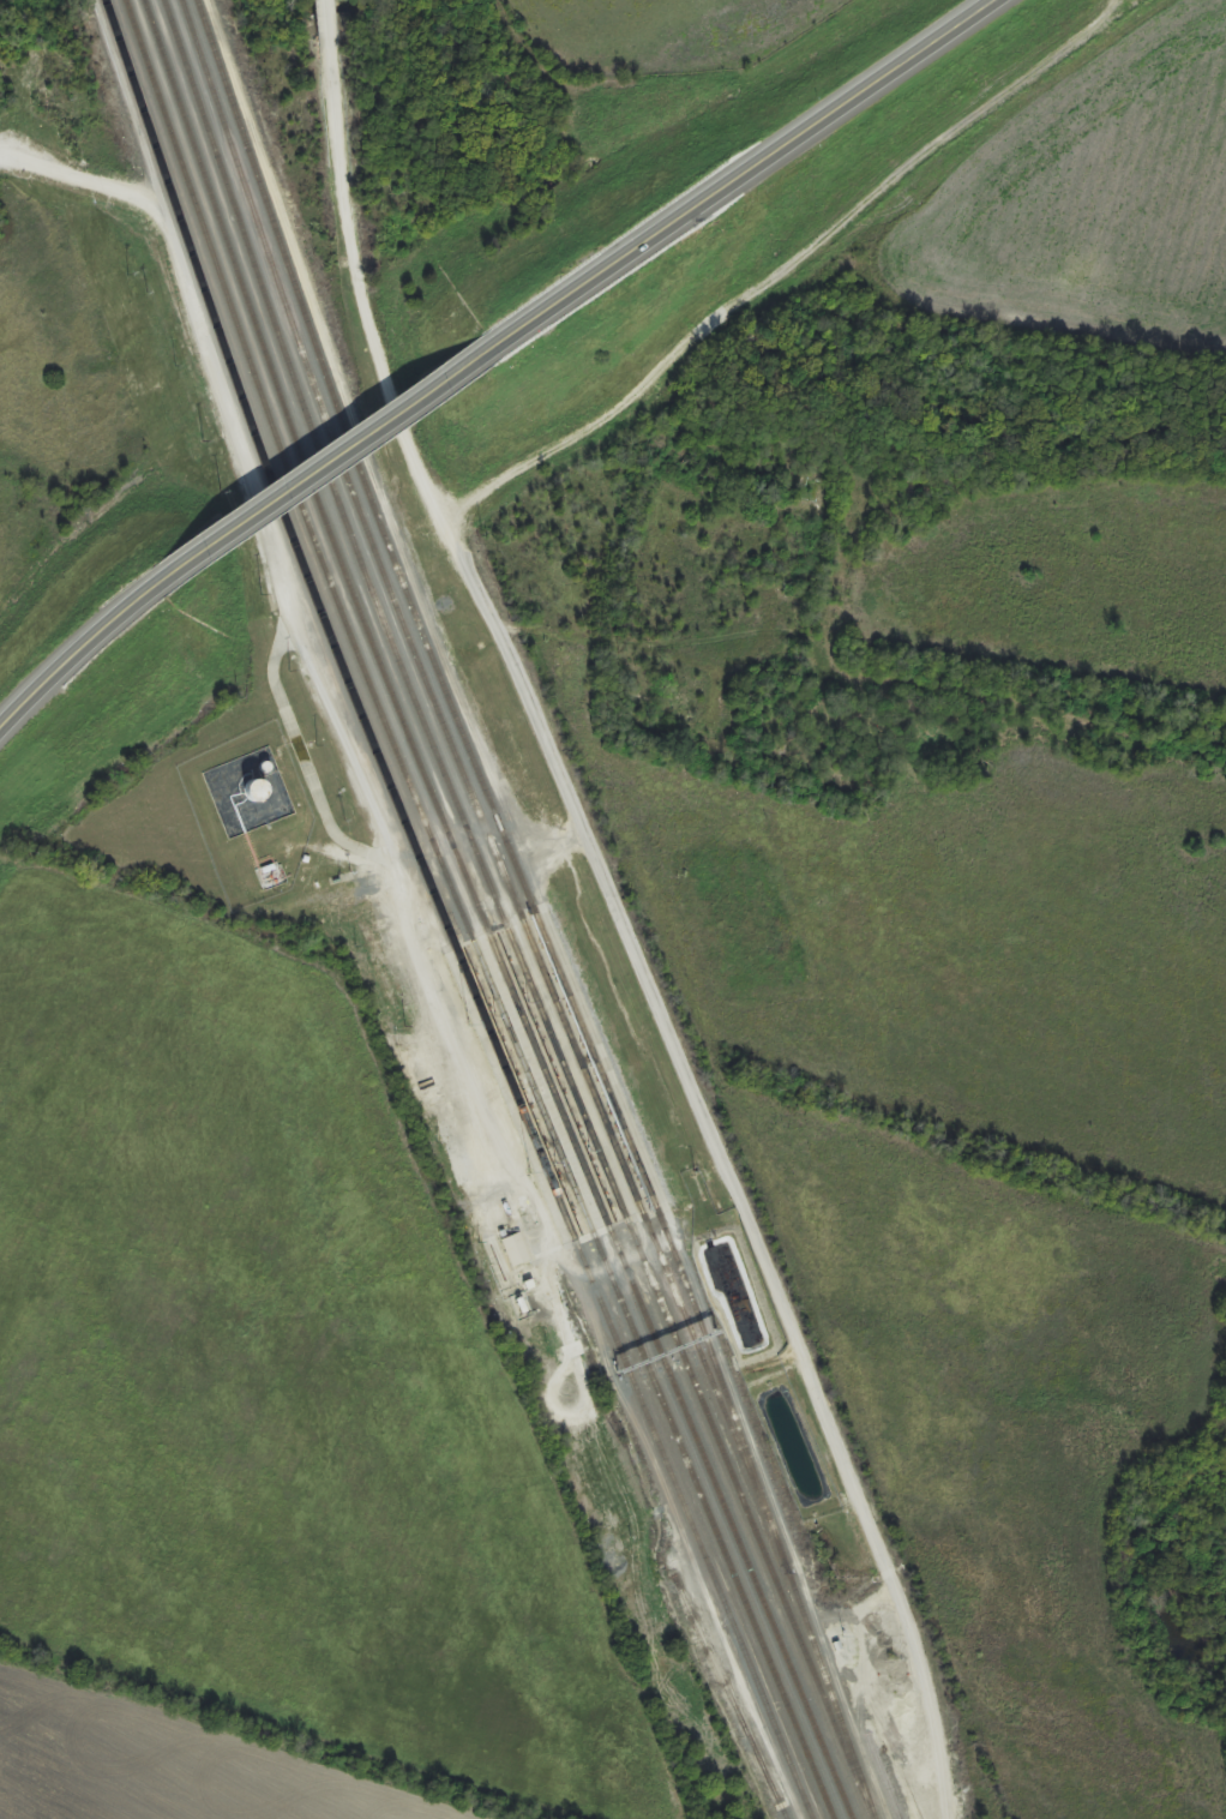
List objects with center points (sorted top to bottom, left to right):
road: (745, 168)
road: (335, 458)
road: (85, 658)
railway: (474, 762)
building: (258, 791)
railway: (521, 912)
railway: (505, 914)
railway: (443, 915)
railway: (462, 915)
railway: (482, 915)
building: (517, 1249)
railway: (731, 1694)
railway: (884, 1776)

